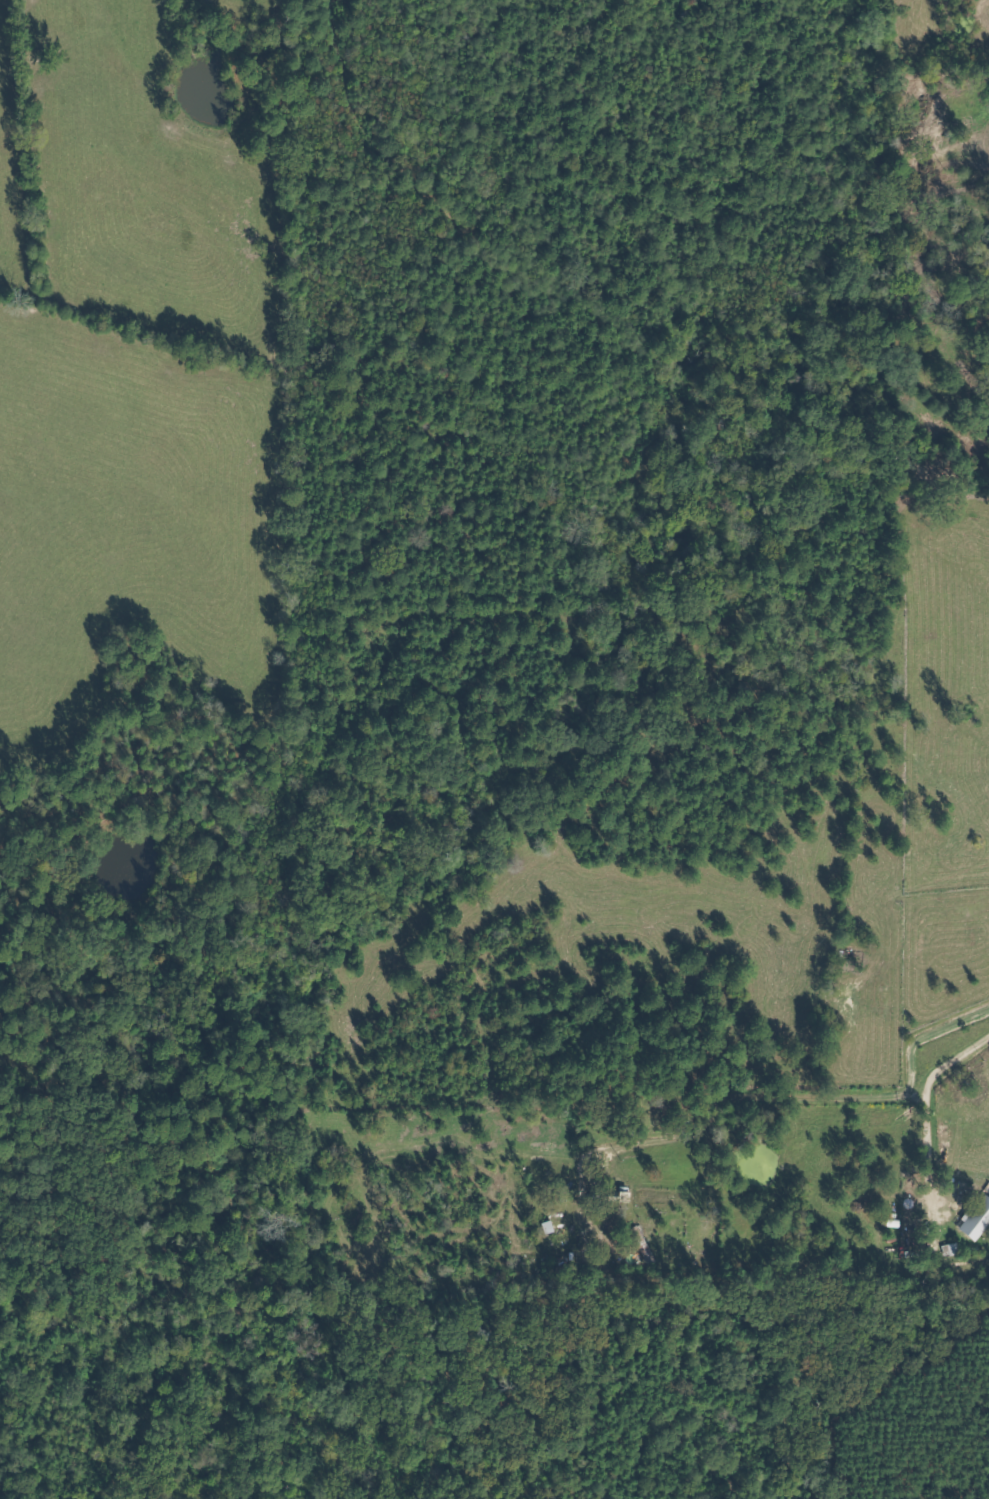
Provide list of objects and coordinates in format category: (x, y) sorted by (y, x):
building: (980, 1221)

